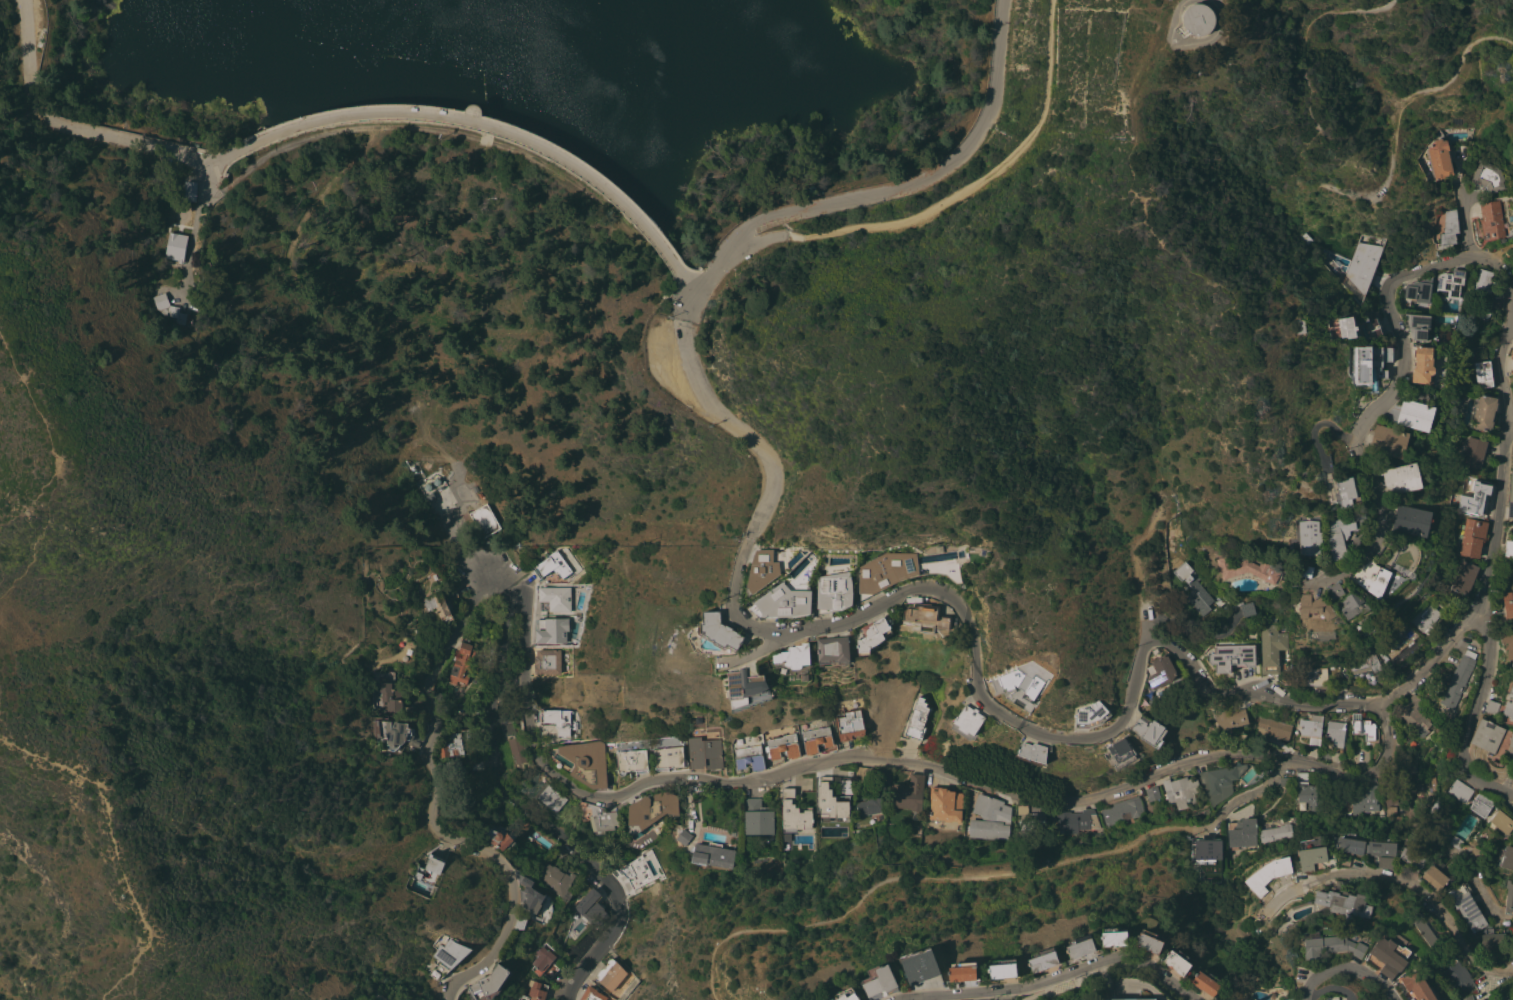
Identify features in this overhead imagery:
road: (1363, 9)
building: (1197, 19)
road: (1187, 43)
road: (1303, 61)
road: (1233, 105)
road: (1393, 109)
road: (337, 115)
road: (1330, 154)
building: (1439, 158)
building: (1488, 177)
road: (906, 182)
building: (190, 191)
dam: (196, 199)
road: (942, 201)
road: (1142, 202)
road: (1464, 220)
building: (1491, 220)
building: (1449, 228)
building: (176, 246)
building: (1361, 264)
building: (1449, 284)
building: (1482, 284)
building: (1419, 289)
road: (692, 297)
building: (168, 308)
building: (1480, 311)
building: (1418, 325)
building: (1346, 327)
building: (1373, 327)
building: (1512, 342)
building: (1512, 359)
parking lot: (665, 360)
building: (1368, 365)
building: (1422, 366)
building: (1483, 374)
building: (1512, 383)
road: (32, 393)
road: (1374, 405)
building: (1483, 411)
building: (1415, 415)
road: (1509, 423)
building: (1389, 441)
road: (760, 447)
building: (1471, 450)
building: (1402, 478)
building: (433, 485)
building: (1345, 492)
building: (1510, 498)
building: (1475, 499)
building: (485, 520)
building: (1411, 520)
road: (1496, 528)
road: (42, 535)
building: (1339, 535)
building: (1473, 537)
building: (1309, 539)
road: (466, 549)
building: (1509, 549)
building: (553, 565)
building: (1185, 565)
building: (1247, 568)
building: (761, 569)
building: (1303, 569)
building: (886, 571)
building: (1371, 577)
building: (1465, 577)
building: (1444, 587)
building: (834, 591)
building: (1195, 591)
building: (1335, 591)
building: (1433, 597)
building: (551, 598)
building: (783, 602)
building: (1508, 603)
building: (1353, 604)
building: (438, 605)
building: (1315, 606)
building: (1248, 609)
road: (1145, 616)
building: (1425, 617)
building: (549, 629)
building: (719, 631)
building: (1323, 634)
building: (871, 635)
building: (1508, 643)
building: (1401, 644)
building: (1271, 648)
building: (833, 649)
building: (1155, 650)
road: (748, 651)
building: (793, 656)
building: (1231, 657)
building: (547, 661)
building: (462, 663)
building: (1364, 664)
building: (1161, 671)
building: (1312, 677)
building: (1458, 680)
building: (1022, 681)
building: (744, 684)
building: (396, 697)
building: (1508, 704)
building: (1492, 706)
building: (1090, 714)
building: (1192, 715)
building: (1415, 715)
building: (1228, 716)
building: (557, 720)
building: (917, 720)
building: (968, 722)
building: (850, 724)
building: (1361, 727)
building: (1273, 728)
building: (508, 729)
building: (1149, 730)
building: (1311, 730)
road: (1108, 731)
building: (1335, 733)
building: (402, 734)
building: (1486, 735)
building: (817, 737)
building: (1511, 740)
building: (457, 742)
building: (782, 746)
building: (517, 750)
building: (1118, 752)
building: (705, 753)
building: (1032, 753)
building: (749, 757)
building: (669, 758)
building: (631, 761)
building: (587, 762)
building: (475, 763)
road: (898, 763)
building: (455, 769)
building: (1411, 769)
building: (860, 779)
building: (1220, 781)
building: (1284, 781)
building: (1419, 788)
building: (1459, 790)
building: (1181, 791)
building: (1389, 791)
building: (908, 793)
building: (1152, 793)
building: (1306, 794)
building: (550, 797)
building: (830, 800)
road: (1245, 800)
building: (1366, 801)
building: (945, 804)
building: (1480, 805)
building: (870, 806)
road: (430, 809)
building: (649, 810)
building: (1123, 811)
building: (794, 813)
building: (1051, 814)
road: (528, 817)
building: (990, 818)
building: (1031, 818)
building: (758, 819)
building: (603, 821)
building: (1075, 821)
building: (1502, 821)
building: (521, 825)
building: (1278, 829)
building: (1242, 833)
building: (497, 837)
building: (683, 837)
building: (1456, 842)
road: (118, 845)
building: (1347, 845)
building: (1380, 848)
building: (559, 852)
building: (1476, 852)
building: (712, 855)
building: (1208, 855)
building: (1310, 857)
building: (1411, 857)
building: (1343, 861)
building: (1385, 862)
building: (435, 864)
building: (1512, 864)
building: (640, 869)
building: (1265, 873)
building: (418, 875)
road: (931, 876)
building: (1434, 877)
building: (556, 880)
road: (1412, 885)
building: (530, 894)
building: (1509, 897)
building: (1343, 904)
building: (1427, 906)
building: (1467, 906)
building: (591, 908)
building: (521, 922)
building: (533, 926)
building: (1422, 927)
building: (1113, 937)
building: (1493, 937)
building: (1148, 941)
building: (1079, 946)
building: (1328, 946)
building: (448, 957)
building: (1387, 957)
building: (542, 958)
building: (1042, 959)
building: (1177, 961)
building: (1371, 961)
building: (919, 966)
building: (1002, 969)
road: (1347, 969)
building: (962, 971)
building: (610, 974)
road: (1055, 976)
building: (1458, 976)
building: (879, 980)
building: (1207, 981)
building: (489, 983)
building: (1417, 985)
road: (712, 990)
building: (531, 993)
building: (592, 994)
building: (846, 995)
building: (1466, 997)
building: (1129, 999)
building: (1289, 999)
building: (1485, 999)
building: (1487, 999)
building: (1506, 999)

